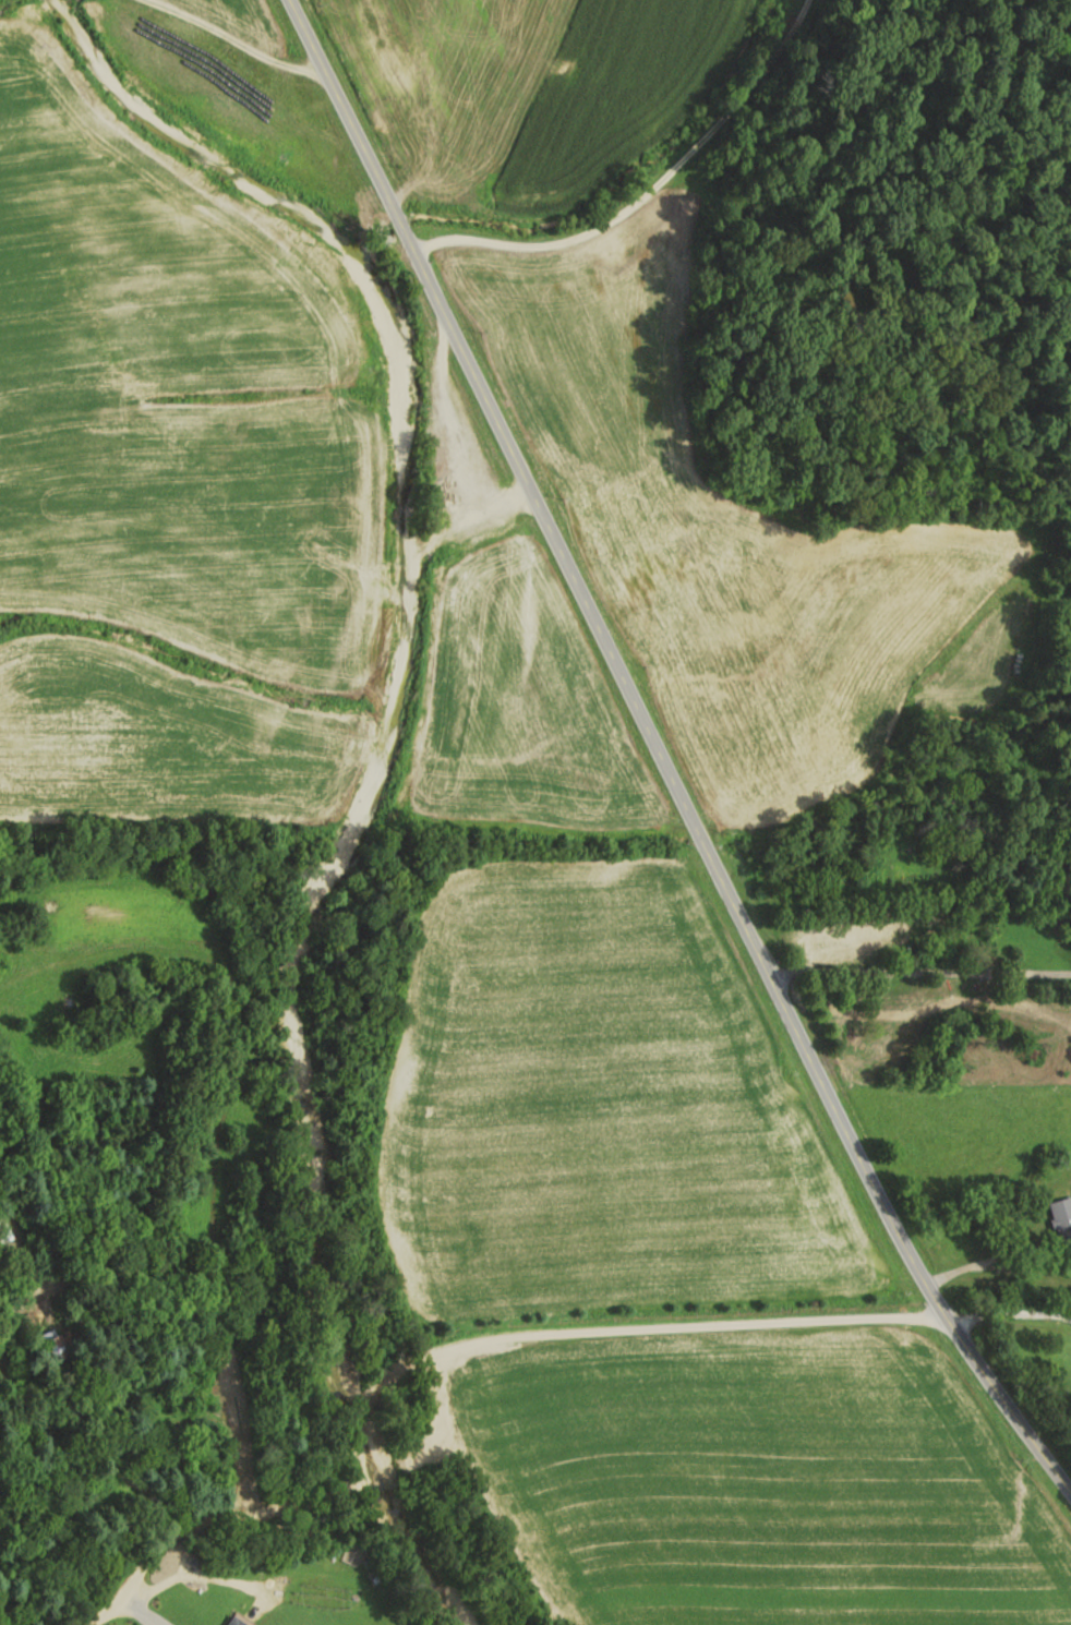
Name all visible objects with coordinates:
building: (586, 155)
road: (649, 197)
road: (662, 758)
road: (919, 970)
building: (1060, 1213)
building: (3, 1232)
road: (1004, 1312)
building: (50, 1348)
road: (457, 1348)
road: (149, 1442)
building: (237, 1621)

